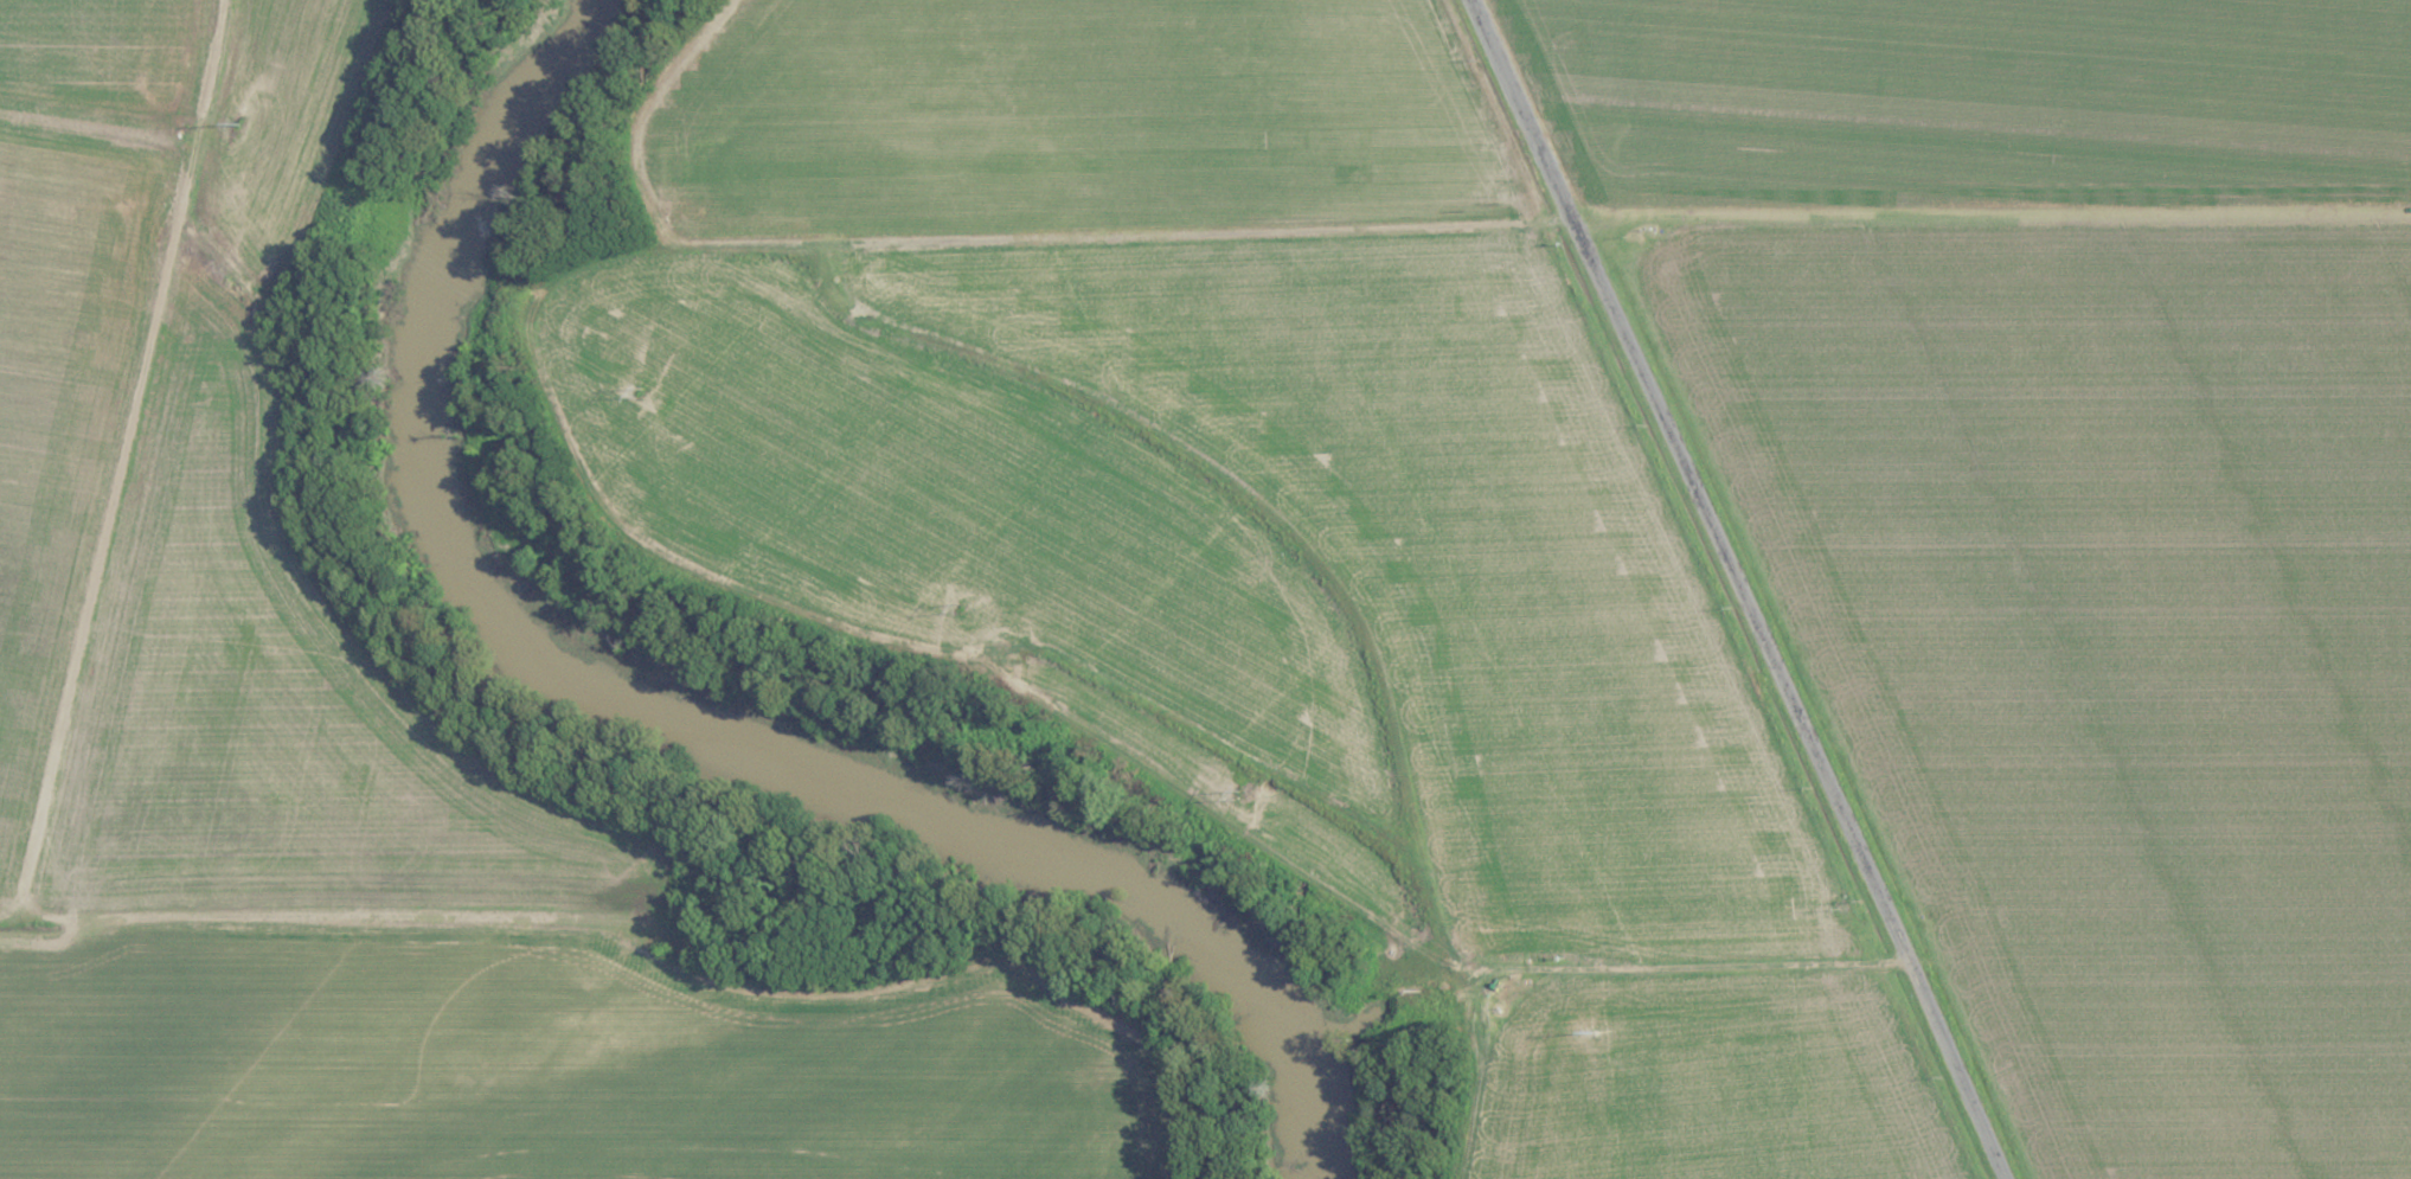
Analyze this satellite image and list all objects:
power tower: (237, 111)
power tower: (646, 391)
road: (1733, 589)
power tower: (954, 600)
power tower: (1237, 784)
power tower: (1517, 976)

